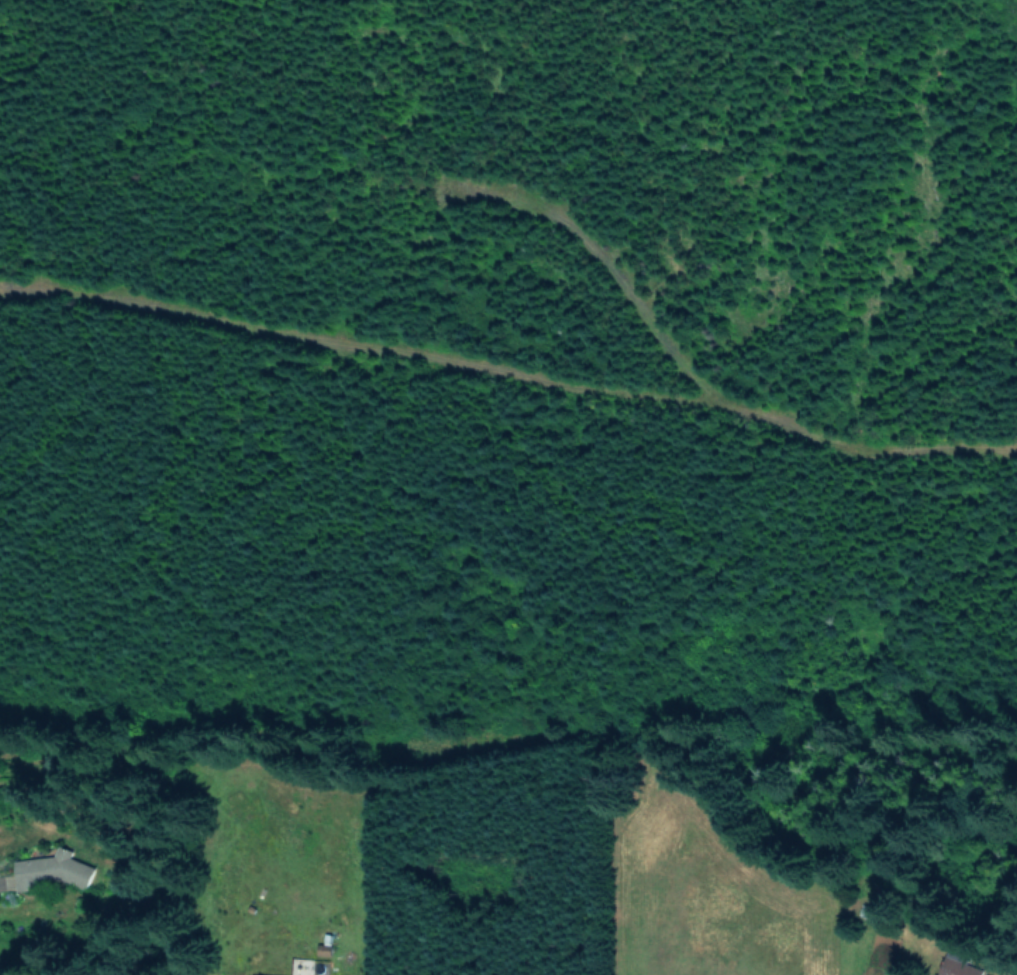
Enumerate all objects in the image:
building: (54, 869)
building: (971, 970)

